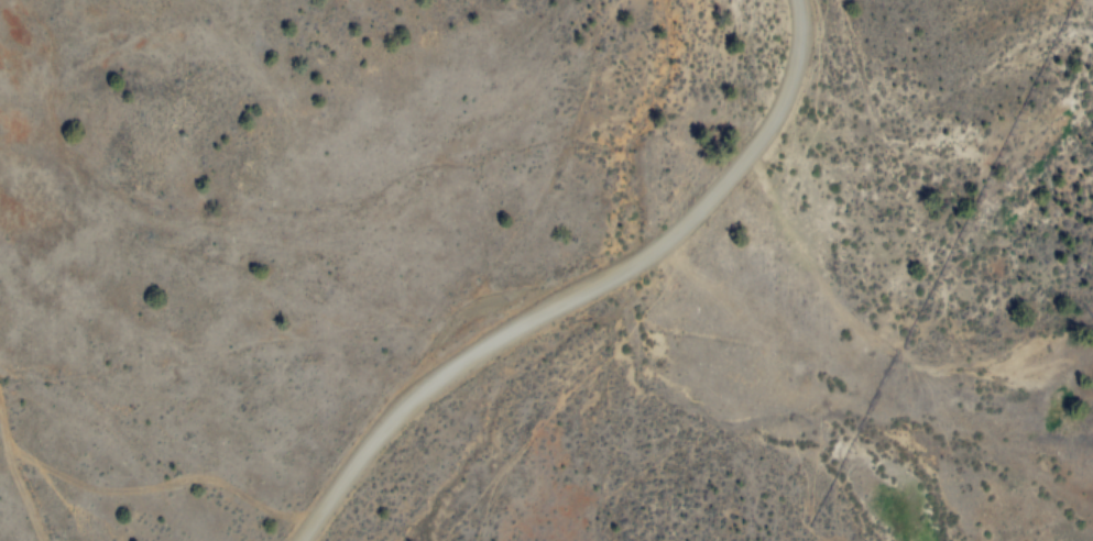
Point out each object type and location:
road: (582, 289)
road: (17, 475)

